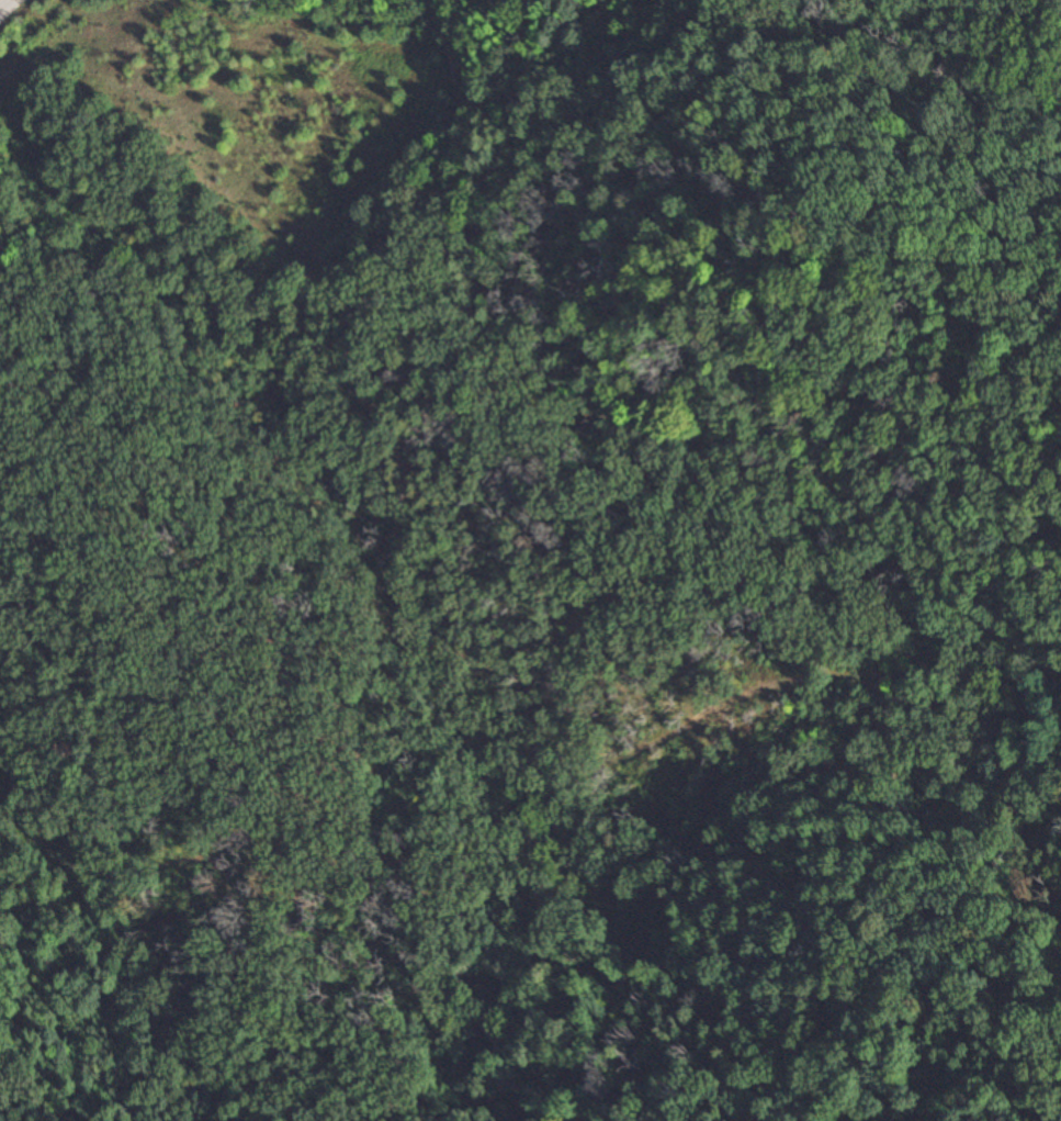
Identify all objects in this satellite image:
road: (19, 14)

